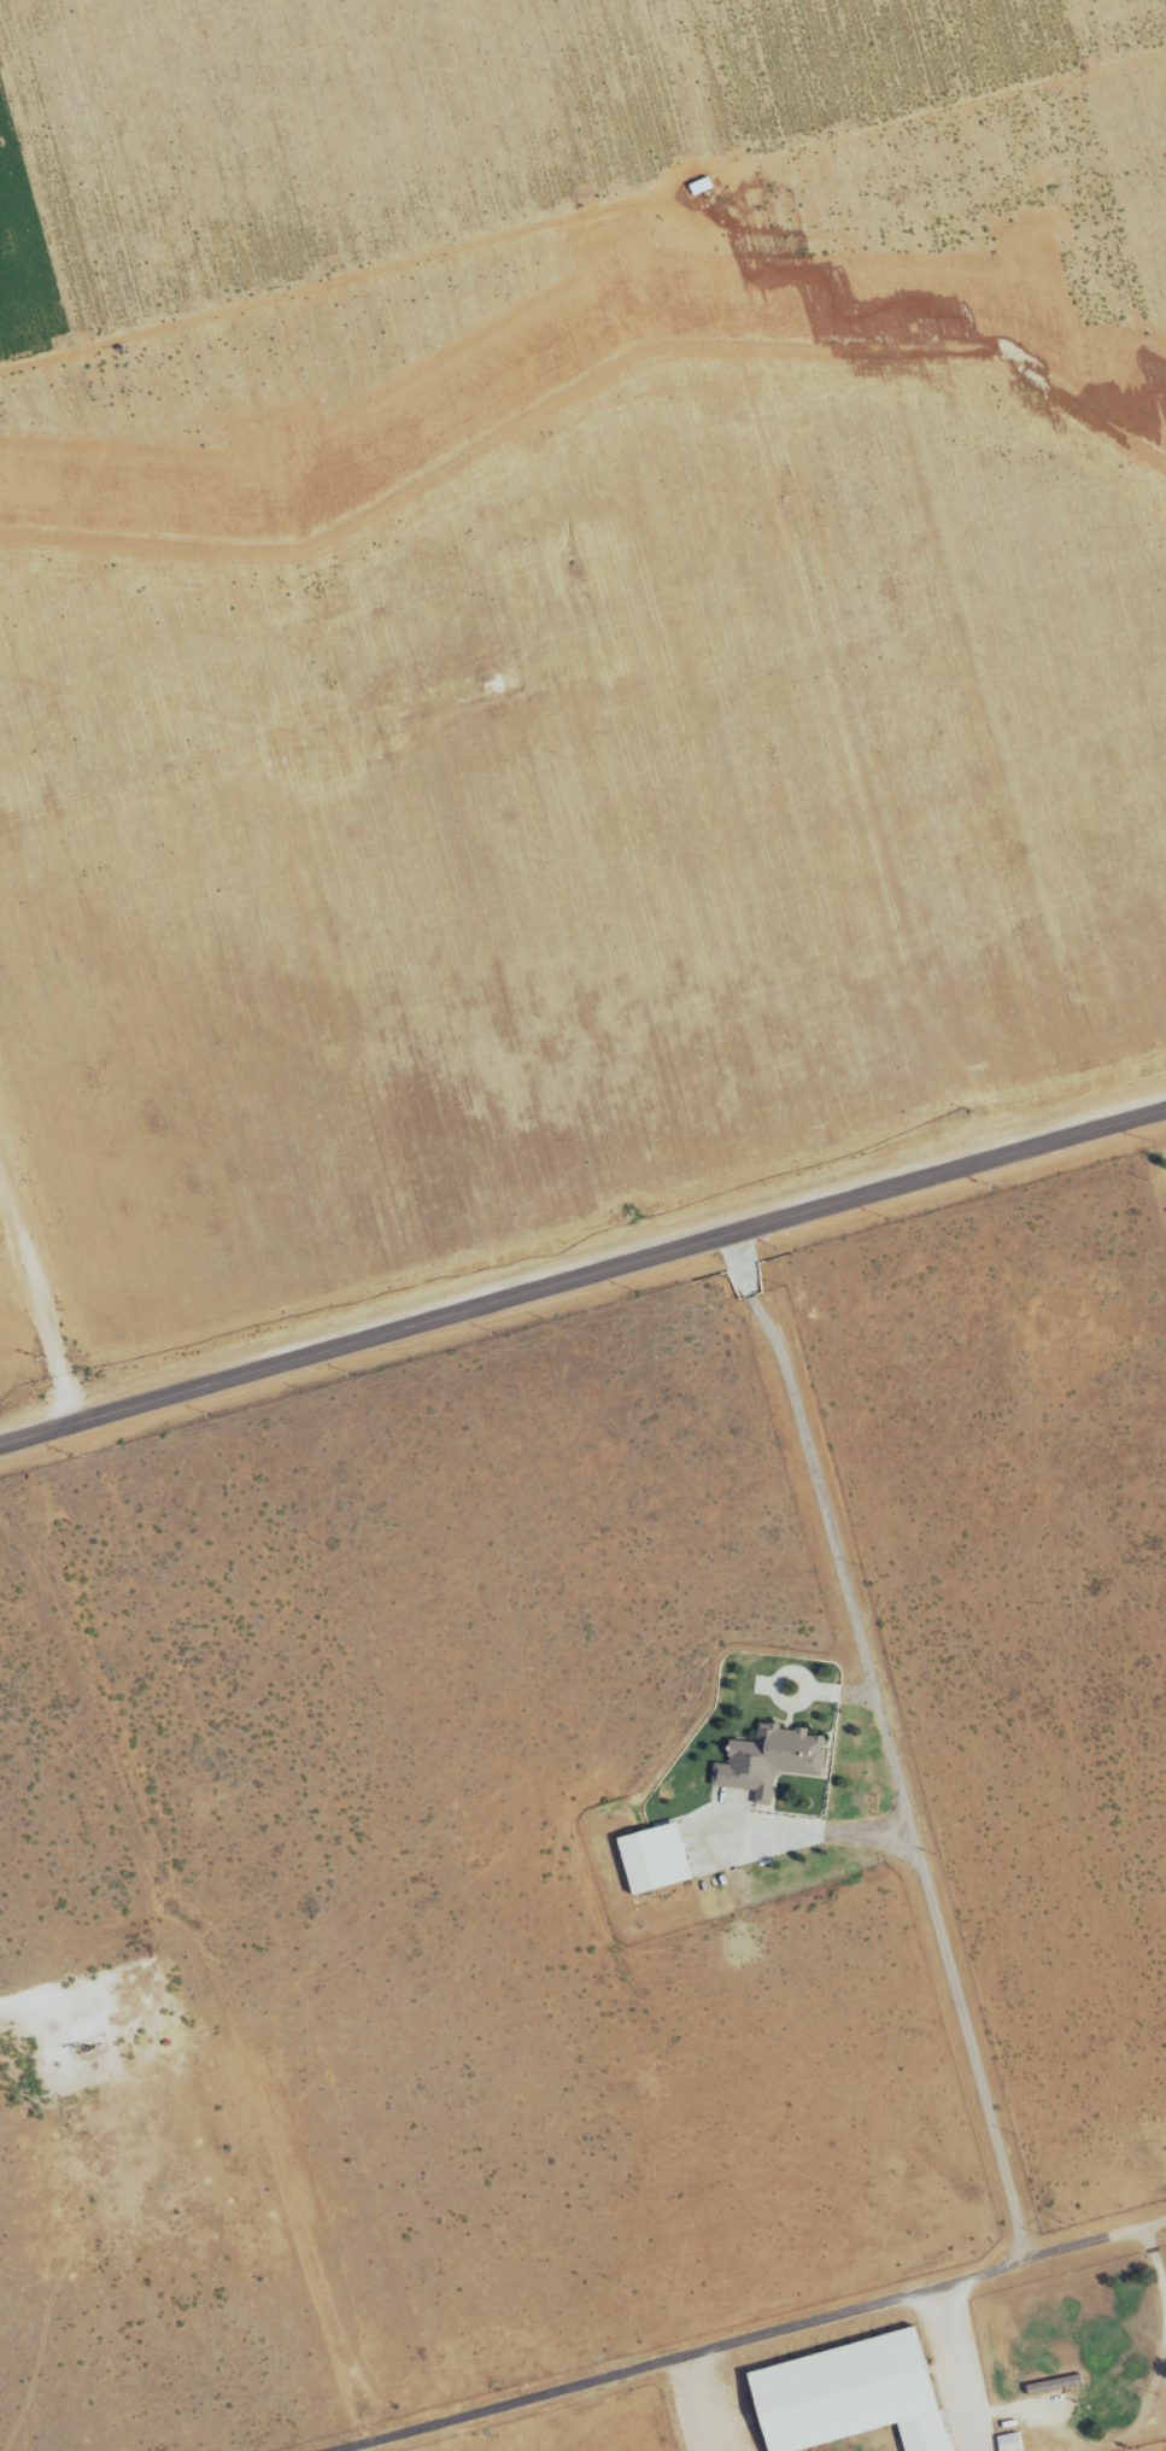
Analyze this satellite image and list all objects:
crop: (557, 661)
road: (350, 718)
road: (582, 1280)
road: (51, 1288)
building: (771, 1762)
building: (656, 1860)
road: (983, 2089)
road: (962, 2369)
building: (852, 2396)
building: (1010, 2443)

